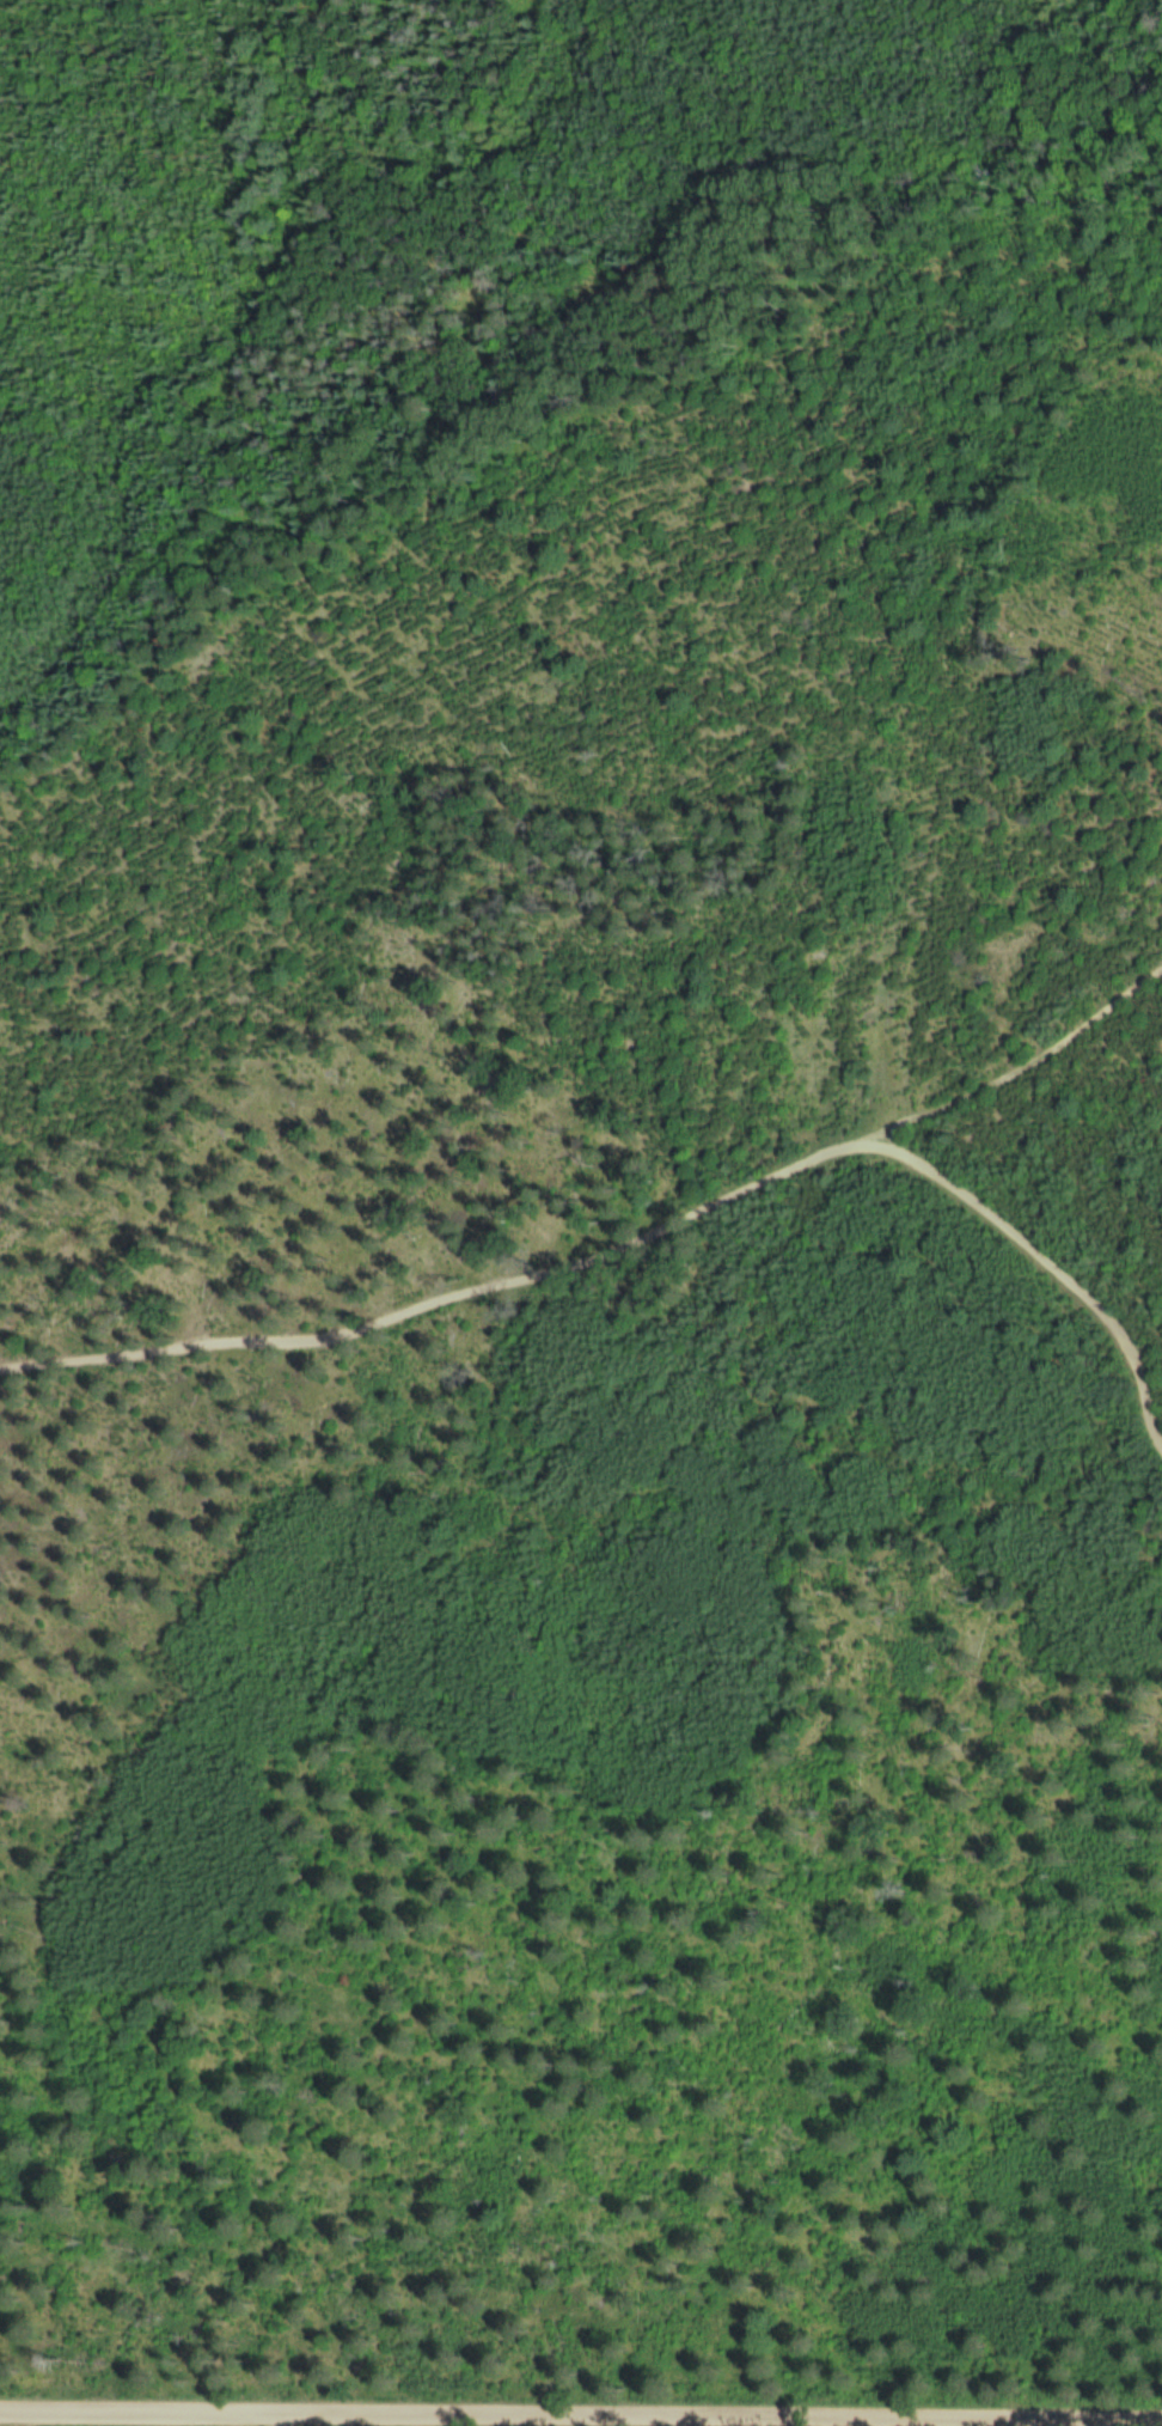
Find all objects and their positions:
road: (666, 1189)
road: (581, 2412)

